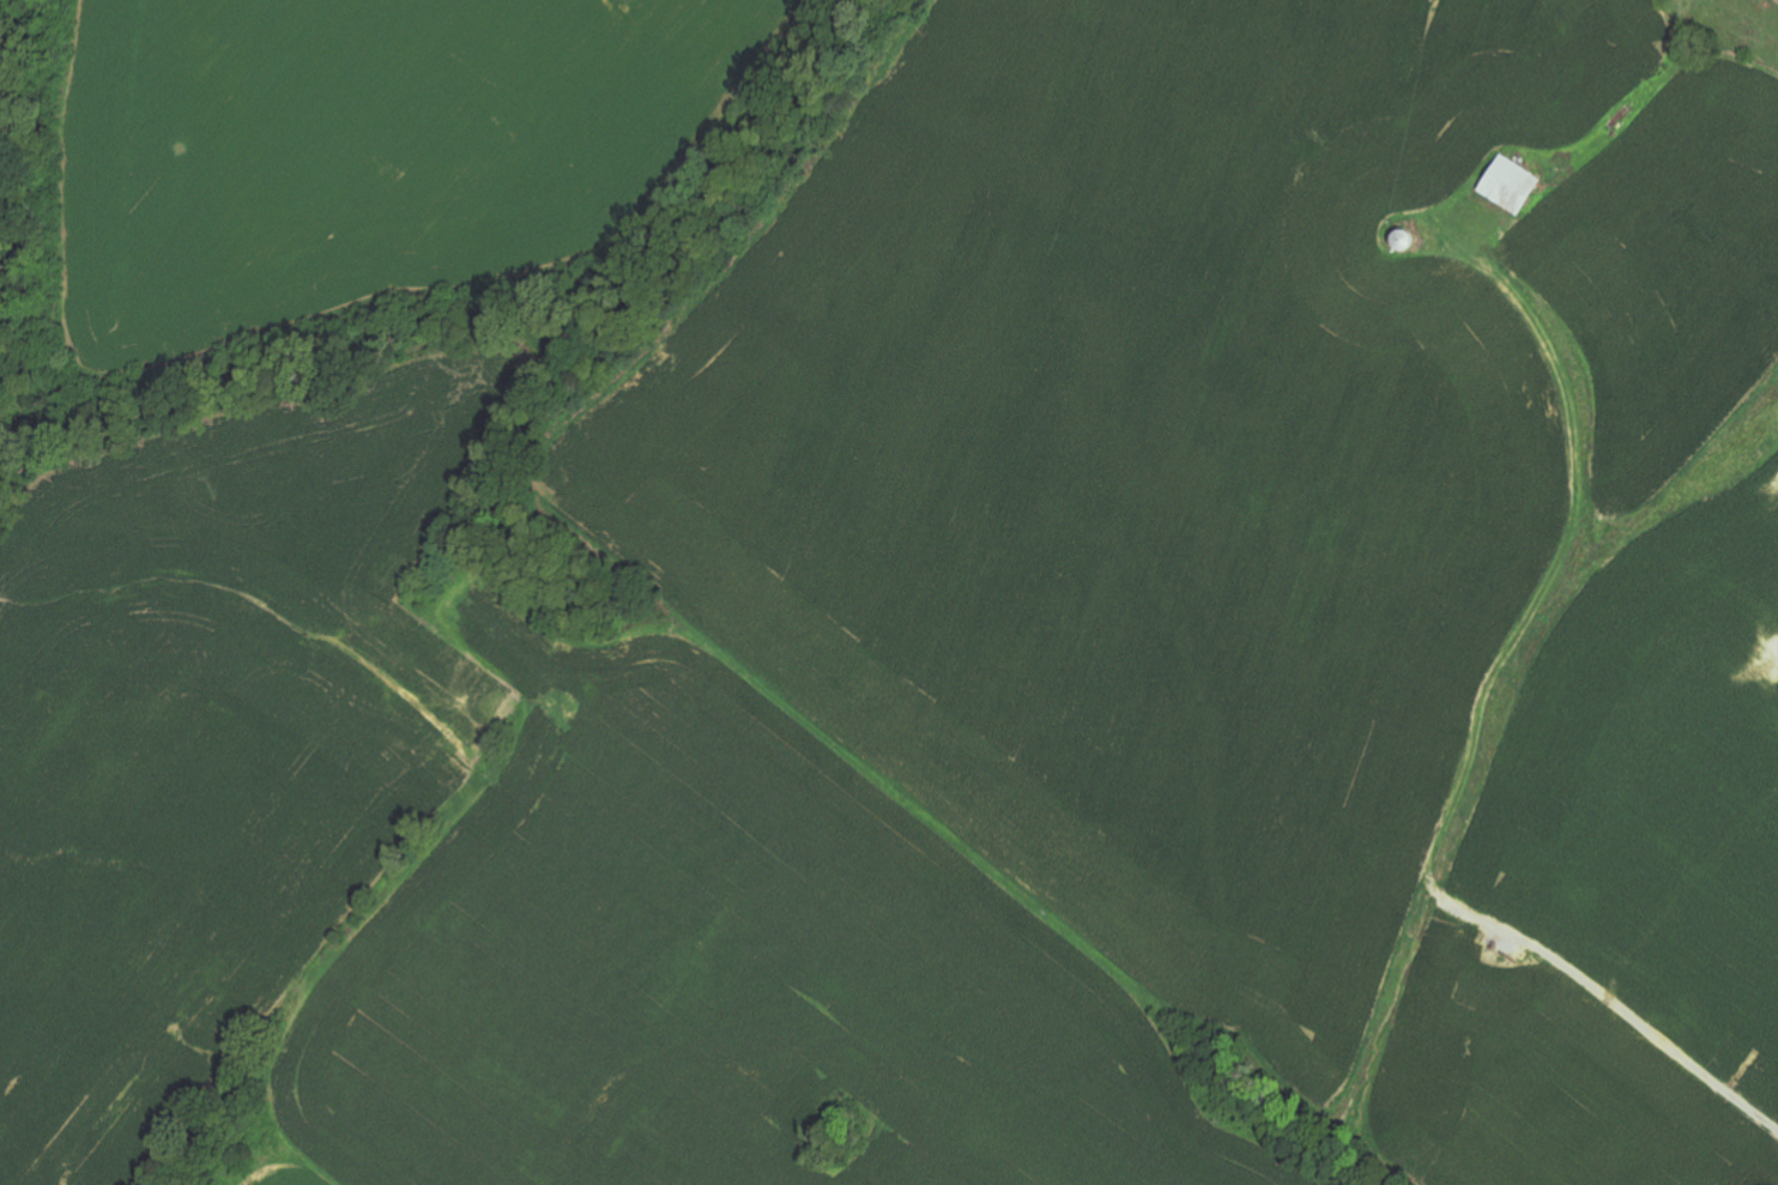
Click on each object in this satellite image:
building: (1777, 2)
building: (1511, 186)
road: (1651, 1034)

